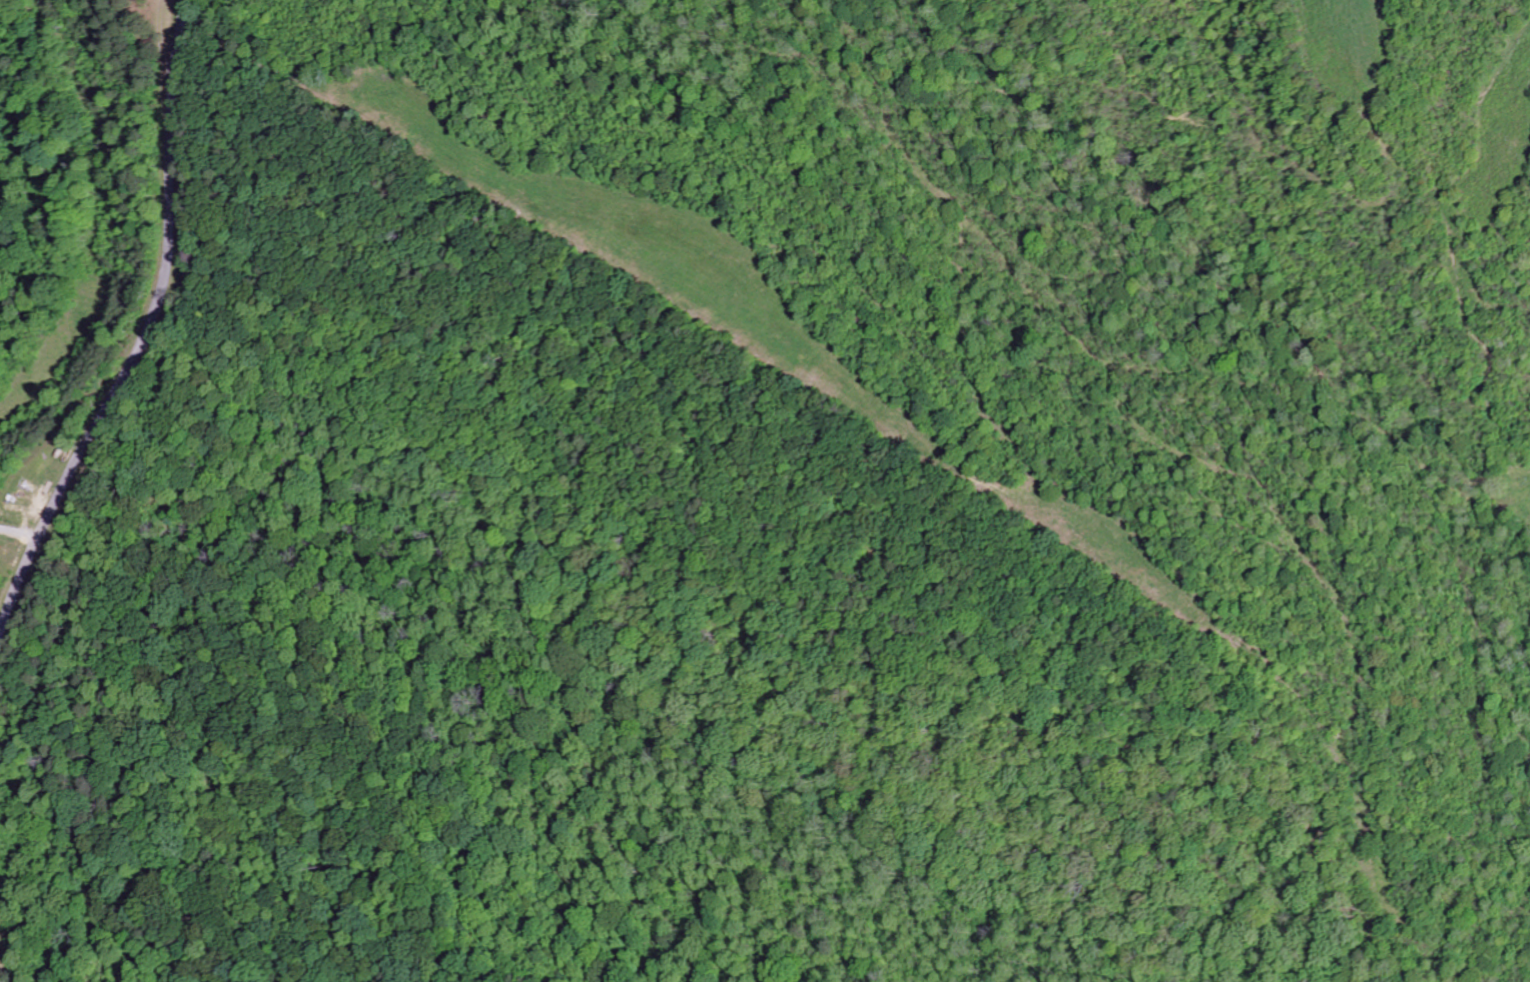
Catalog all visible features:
road: (149, 334)

